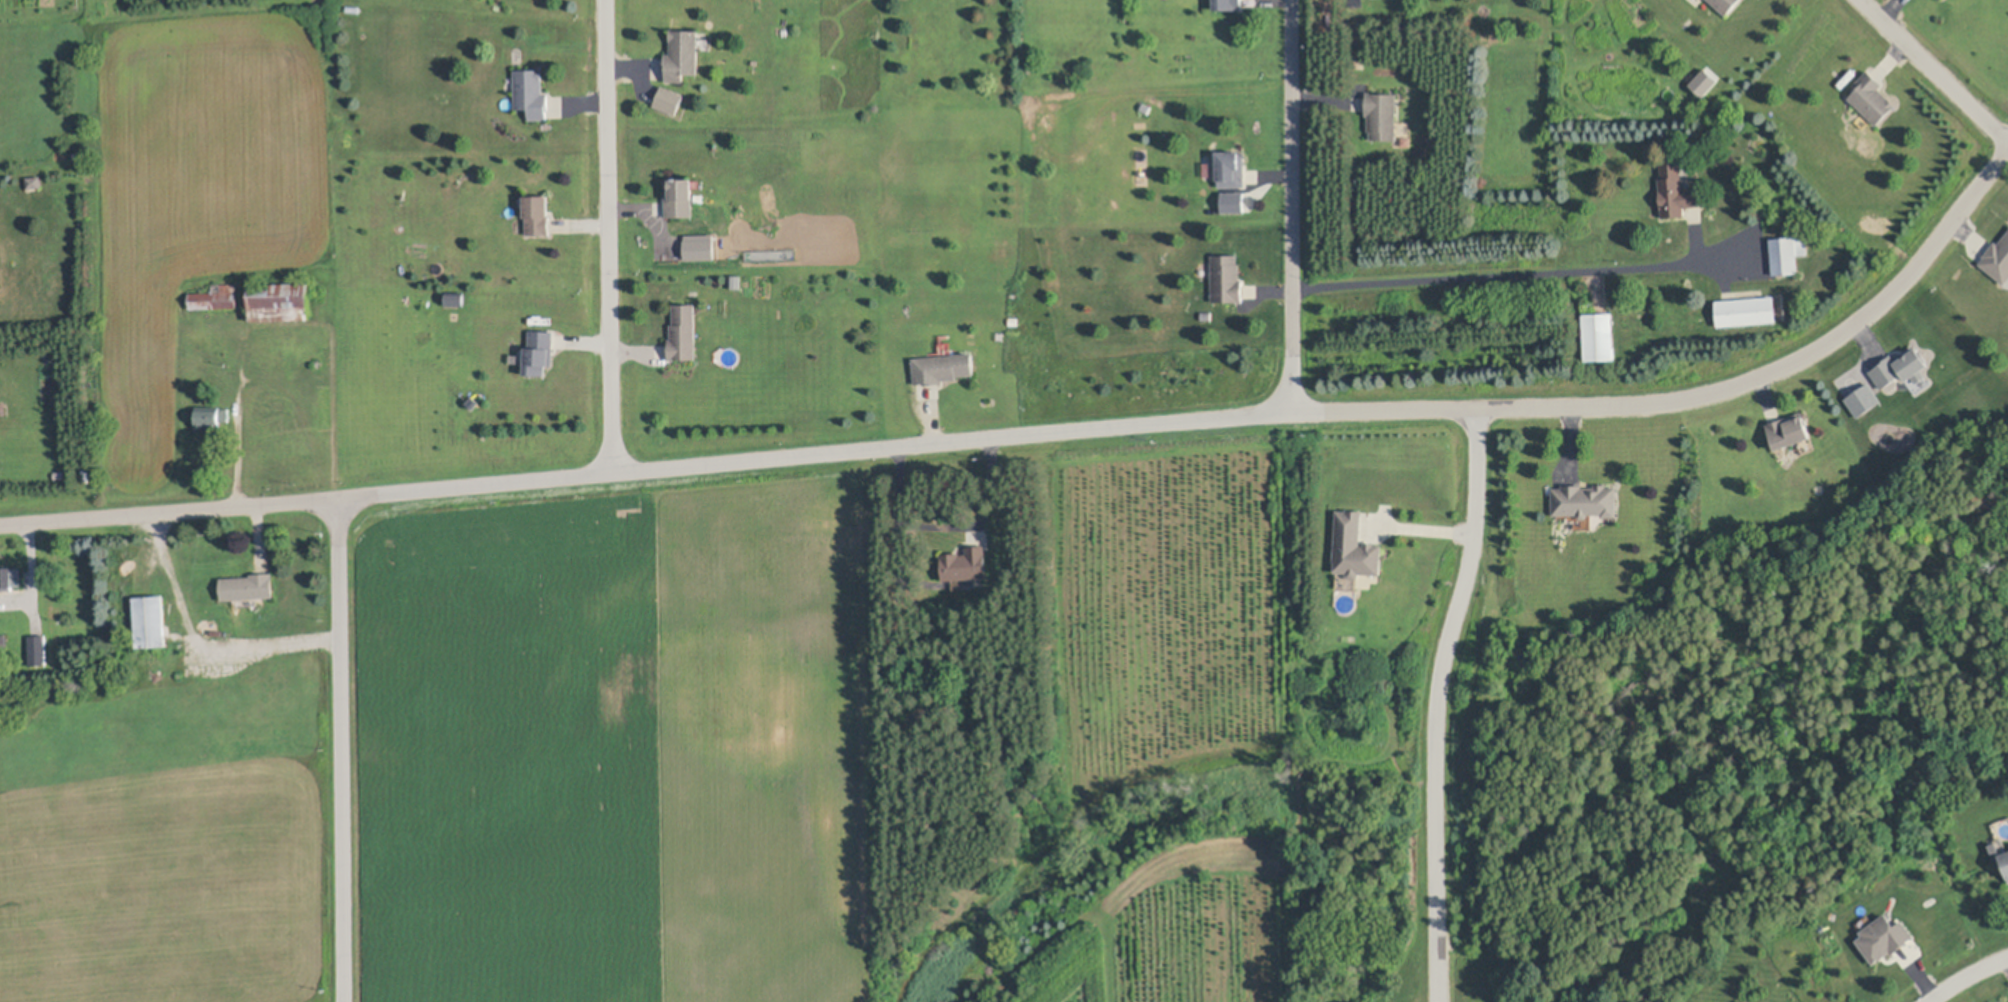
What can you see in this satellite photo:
building: (1943, 0)
building: (1227, 4)
building: (1723, 5)
building: (1358, 29)
building: (683, 54)
building: (1360, 61)
road: (1933, 70)
building: (1705, 83)
building: (531, 92)
building: (1870, 97)
building: (669, 99)
building: (1145, 107)
building: (1382, 115)
building: (1231, 168)
building: (34, 181)
building: (1676, 190)
building: (679, 196)
building: (699, 197)
building: (1233, 202)
road: (1291, 205)
building: (537, 214)
road: (608, 236)
building: (701, 248)
building: (1787, 253)
building: (1997, 260)
road: (1509, 275)
building: (1226, 279)
building: (215, 297)
building: (457, 301)
building: (279, 302)
building: (411, 303)
building: (1746, 311)
building: (1206, 315)
building: (1013, 320)
building: (684, 333)
building: (1599, 335)
building: (539, 352)
building: (1899, 367)
building: (943, 368)
building: (1866, 402)
building: (211, 418)
road: (1050, 431)
building: (1789, 431)
building: (1584, 500)
building: (1355, 547)
building: (966, 564)
building: (10, 577)
building: (248, 586)
building: (150, 620)
road: (203, 639)
building: (3, 642)
building: (37, 649)
road: (1436, 702)
road: (341, 750)
crop: (615, 750)
building: (1994, 849)
building: (2004, 864)
building: (1883, 940)
road: (1964, 974)

